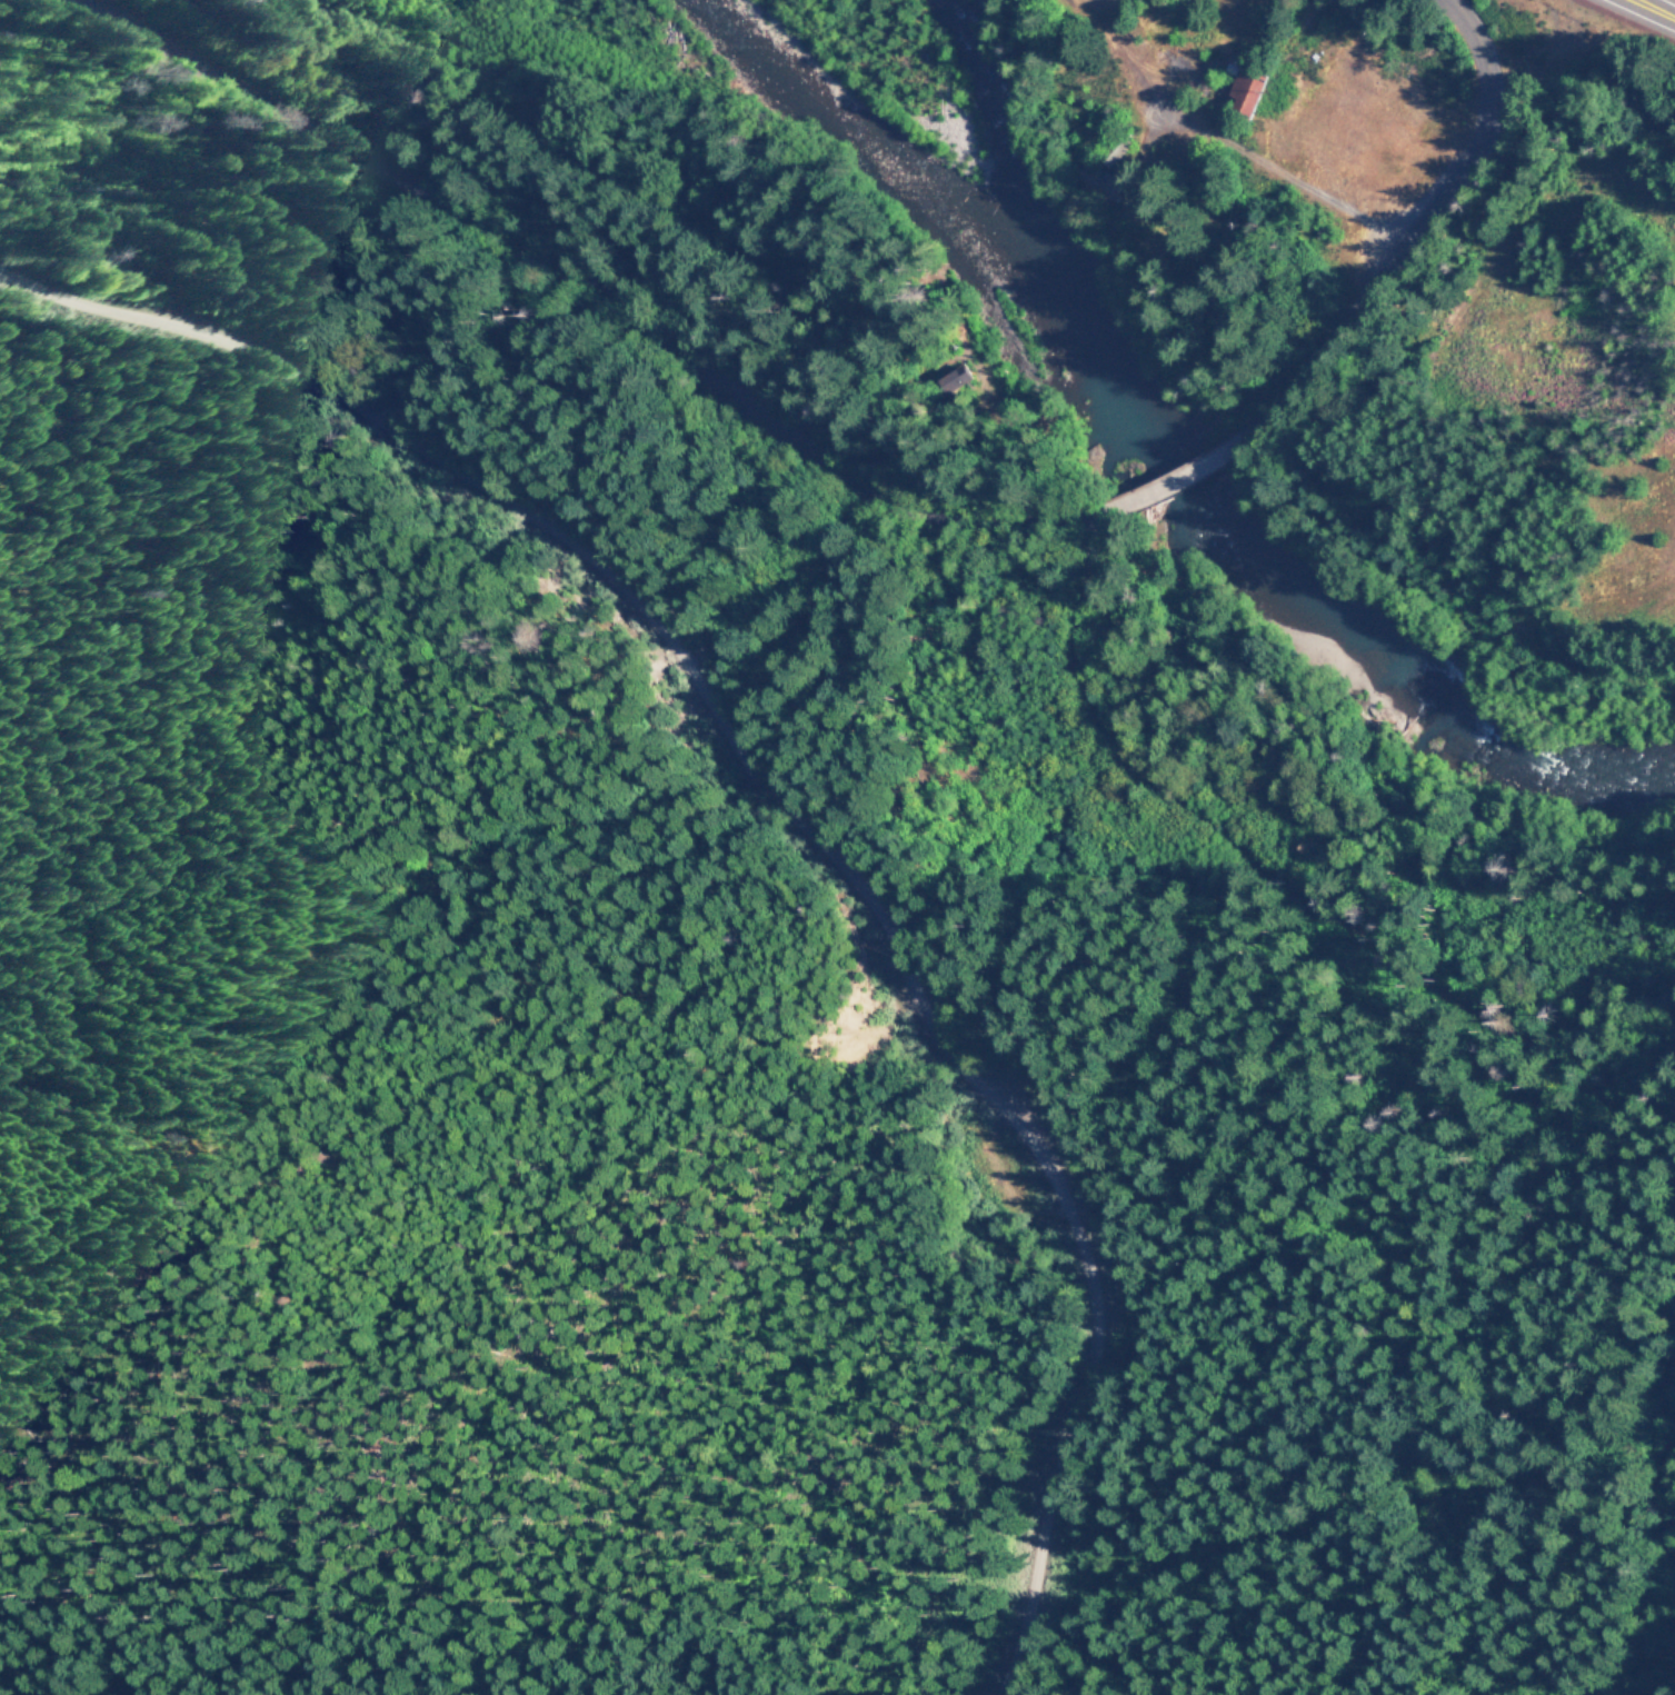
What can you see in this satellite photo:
road: (1647, 12)
building: (1239, 92)
river: (990, 138)
road: (1417, 230)
road: (580, 307)
river: (1151, 451)
road: (1190, 477)
road: (1577, 600)
road: (848, 764)

